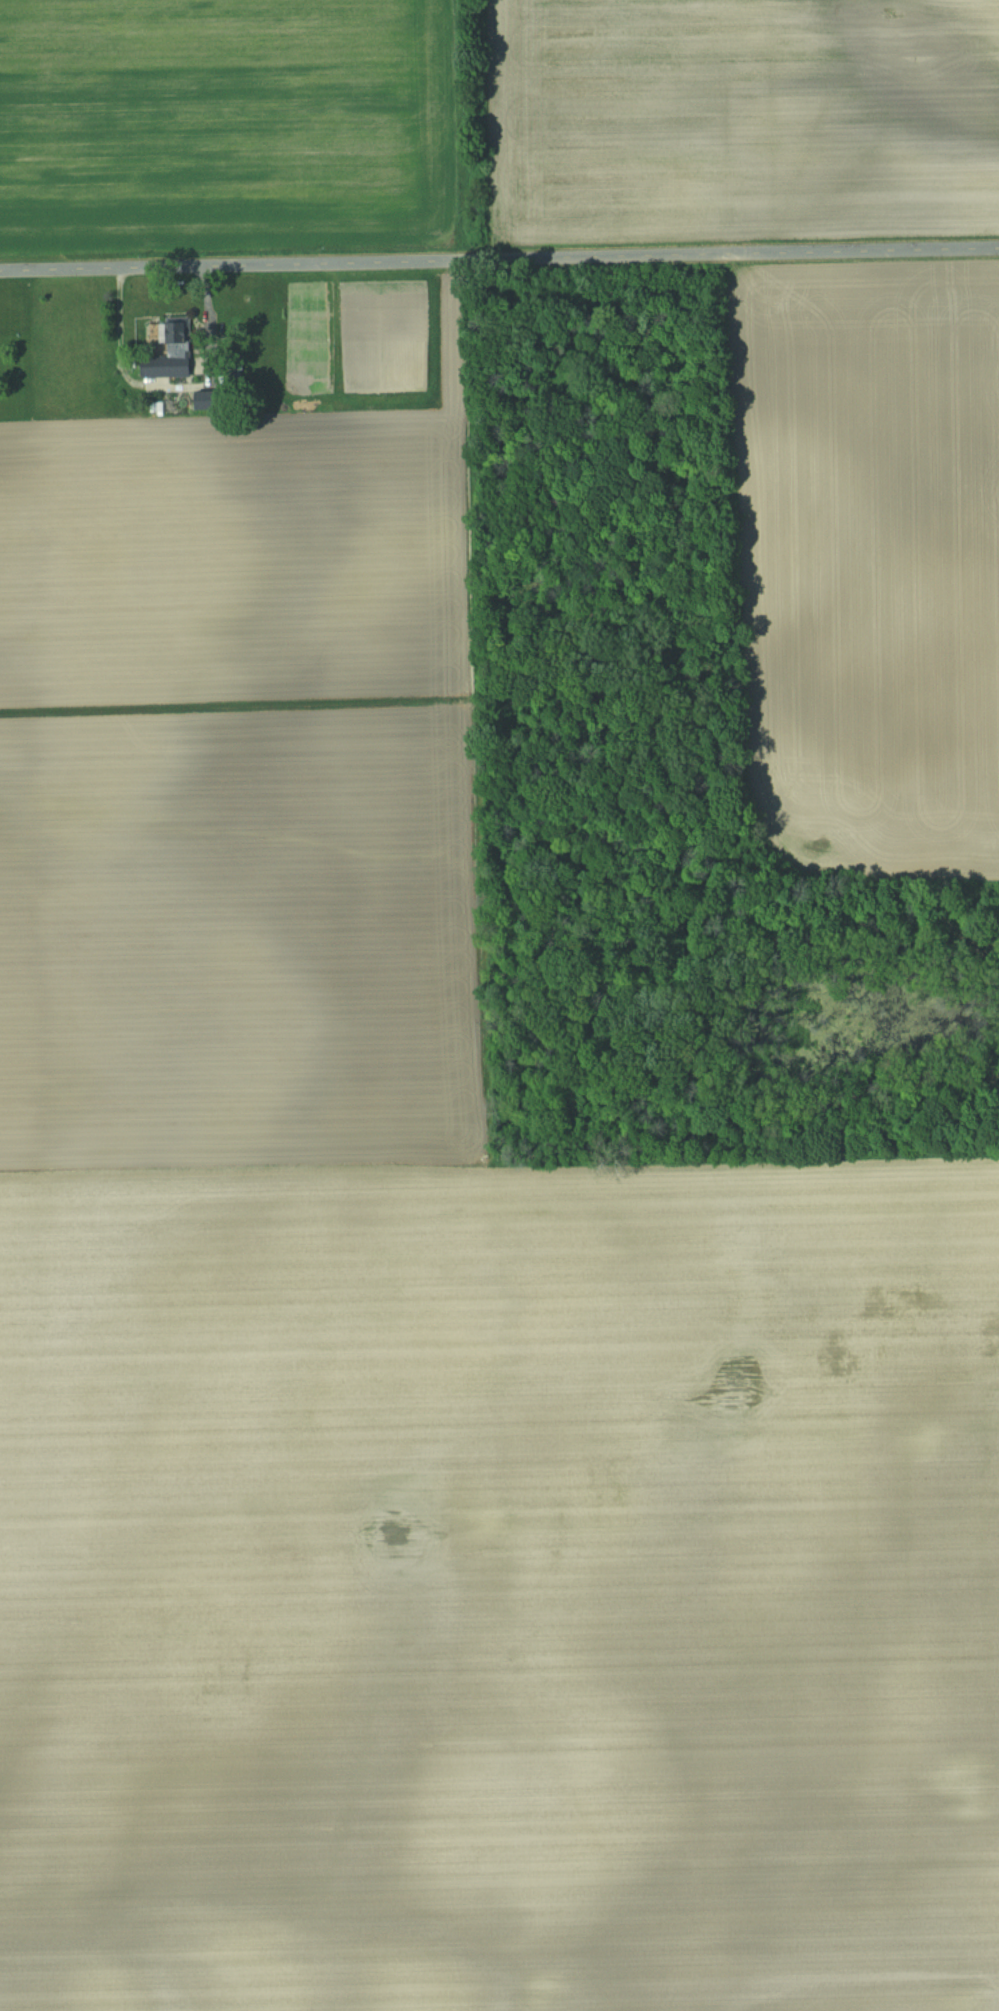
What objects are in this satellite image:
road: (499, 259)
road: (119, 352)
building: (171, 352)

